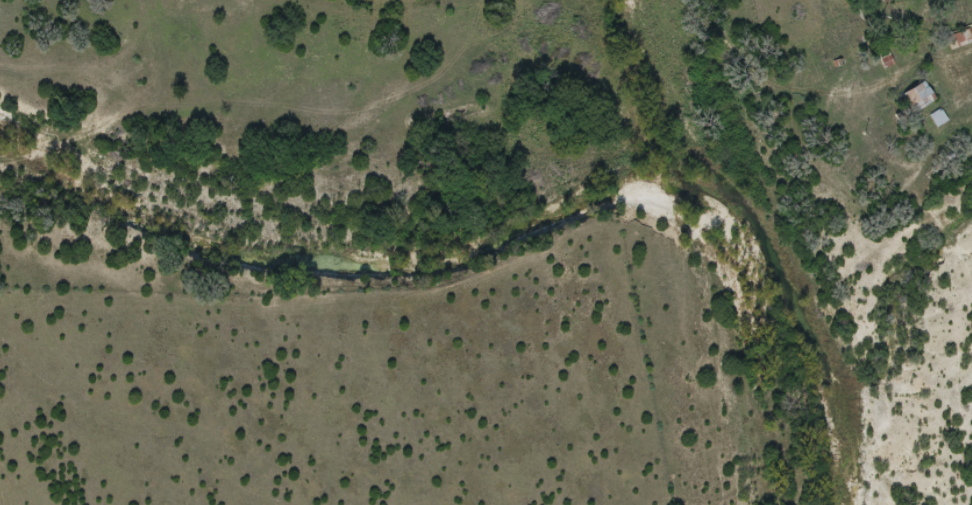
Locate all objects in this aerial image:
building: (962, 41)
road: (962, 83)
building: (921, 98)
building: (940, 120)

